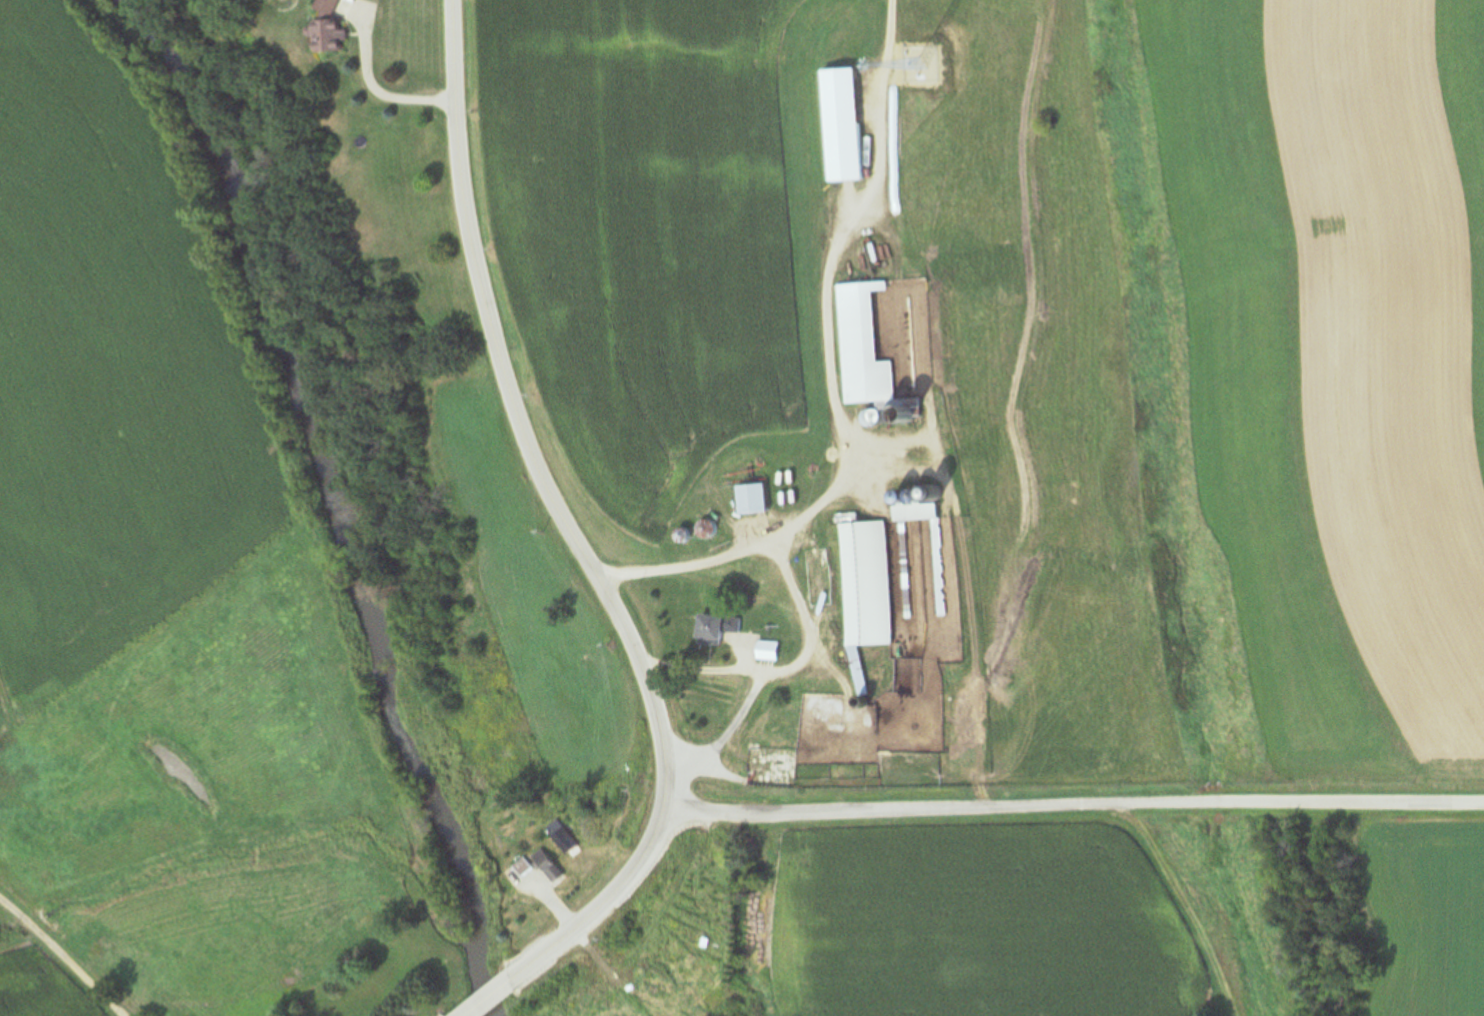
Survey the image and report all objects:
building: (324, 29)
road: (375, 95)
building: (840, 127)
road: (822, 288)
building: (861, 345)
road: (514, 419)
river: (306, 468)
building: (750, 497)
building: (939, 568)
building: (906, 572)
building: (819, 577)
road: (795, 605)
building: (871, 611)
building: (714, 628)
building: (766, 650)
road: (1074, 804)
building: (564, 840)
building: (546, 866)
building: (520, 867)
road: (597, 906)
road: (63, 958)
river: (462, 985)
road: (481, 997)

